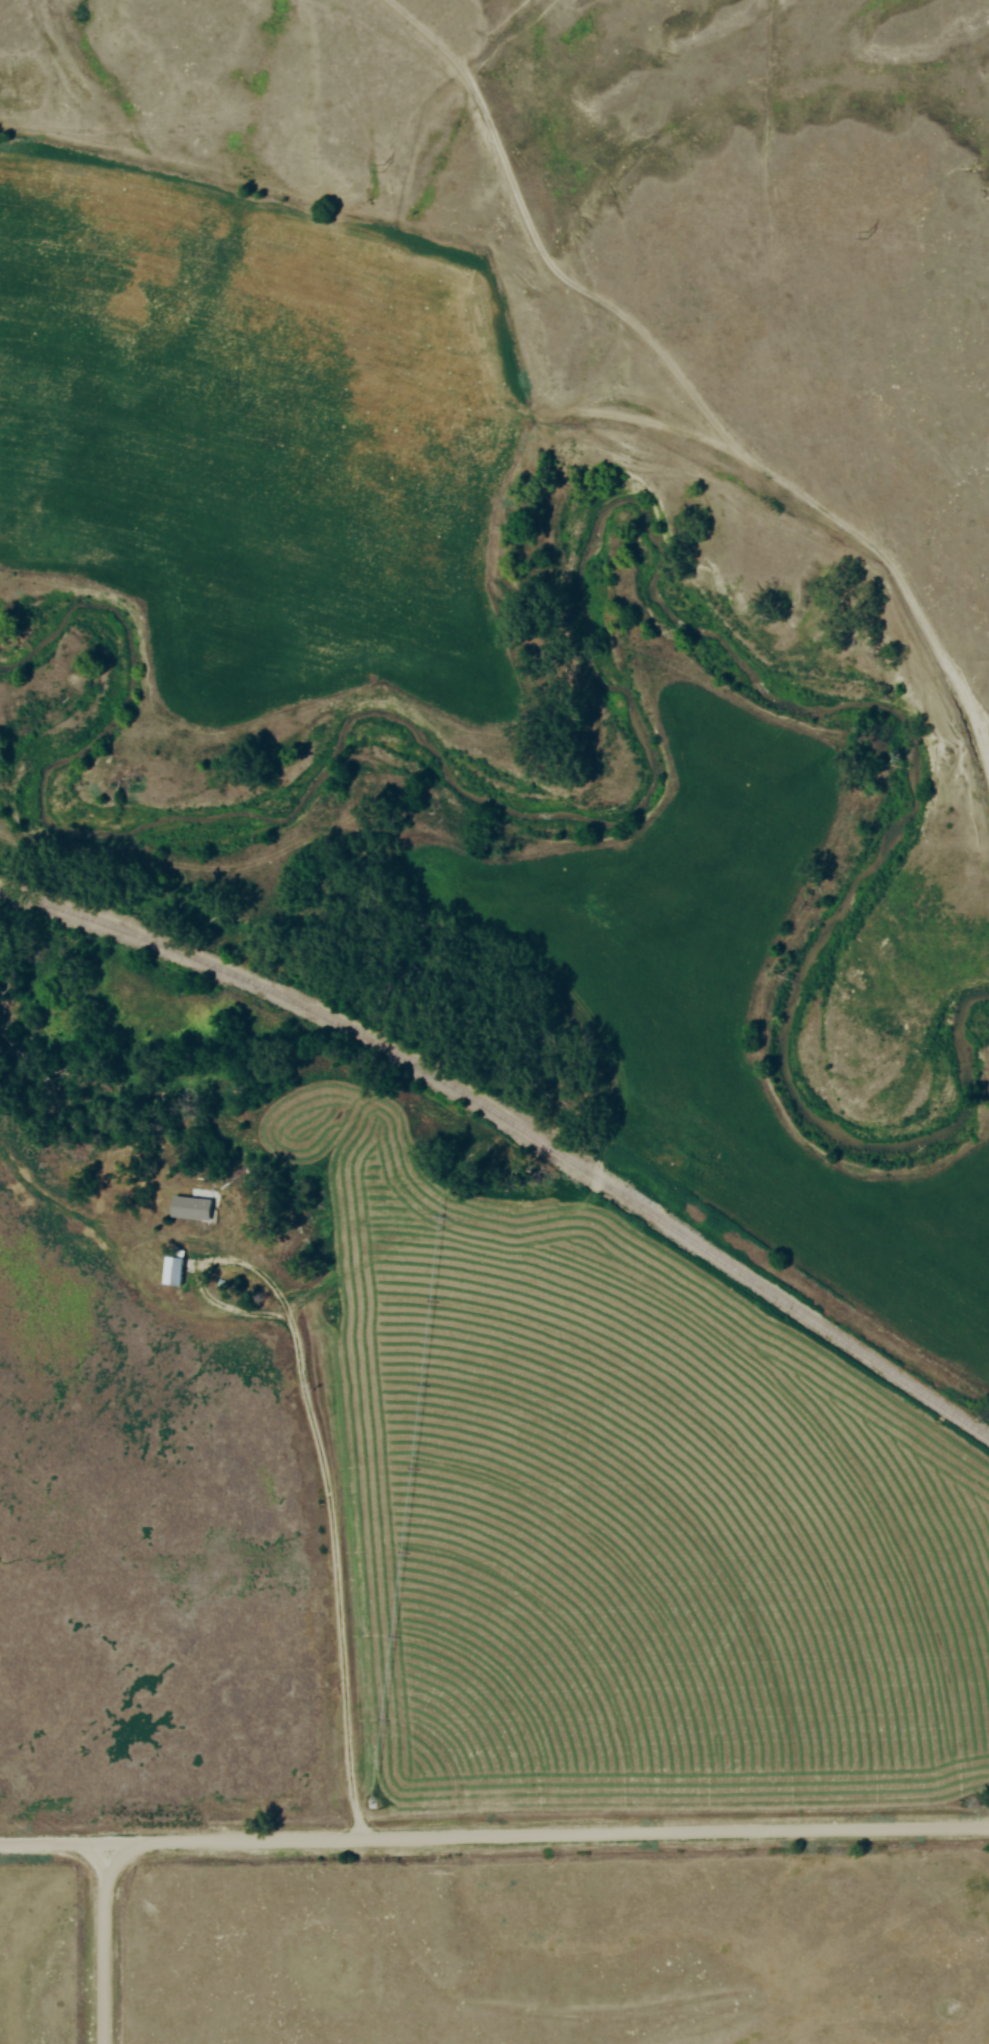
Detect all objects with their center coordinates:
crop: (738, 1007)
railway: (513, 1126)
building: (190, 1208)
building: (173, 1271)
crop: (624, 1507)
road: (335, 1517)
road: (449, 1839)
road: (54, 1846)

